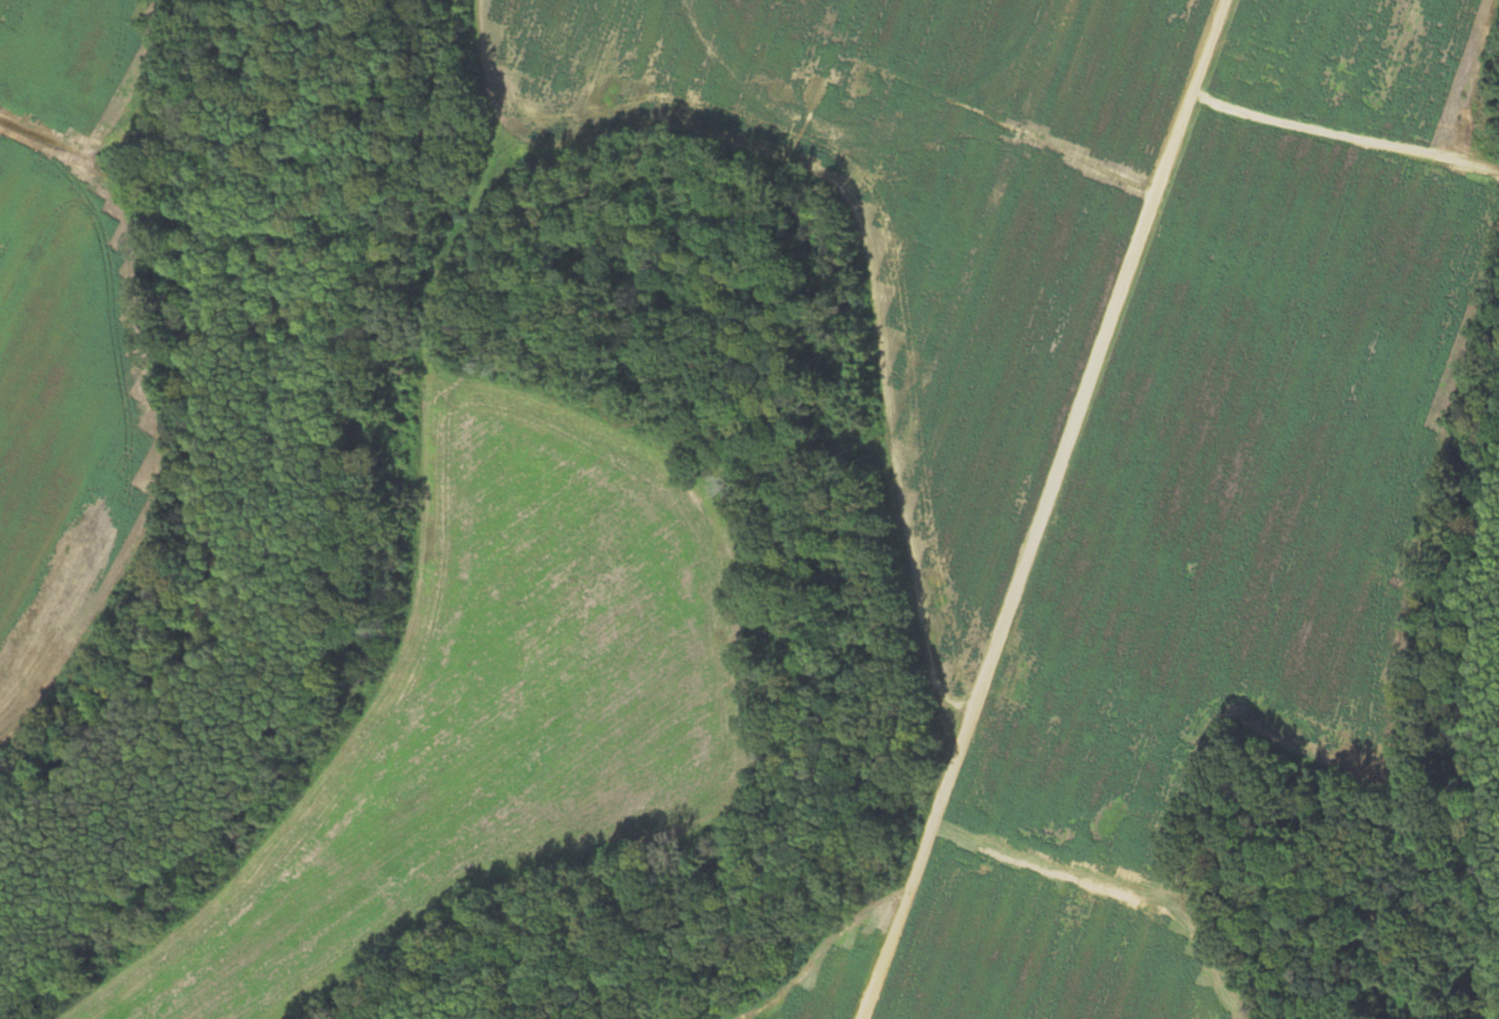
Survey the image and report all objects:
road: (1246, 301)
road: (1019, 509)

